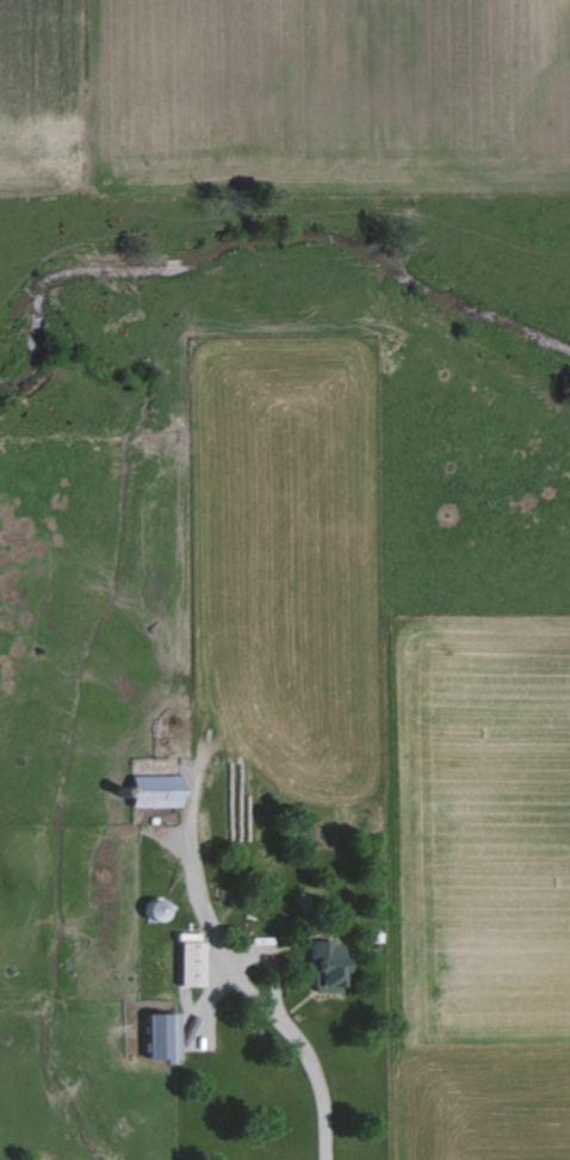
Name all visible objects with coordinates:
building: (145, 790)
building: (316, 965)
building: (151, 1036)
road: (306, 1049)

